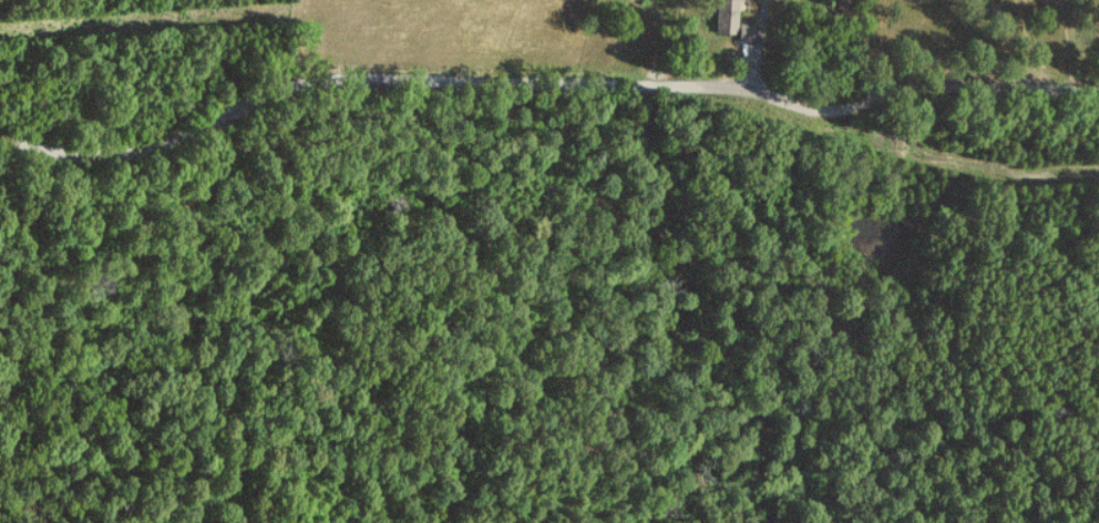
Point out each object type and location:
building: (728, 17)
building: (748, 33)
road: (544, 74)

